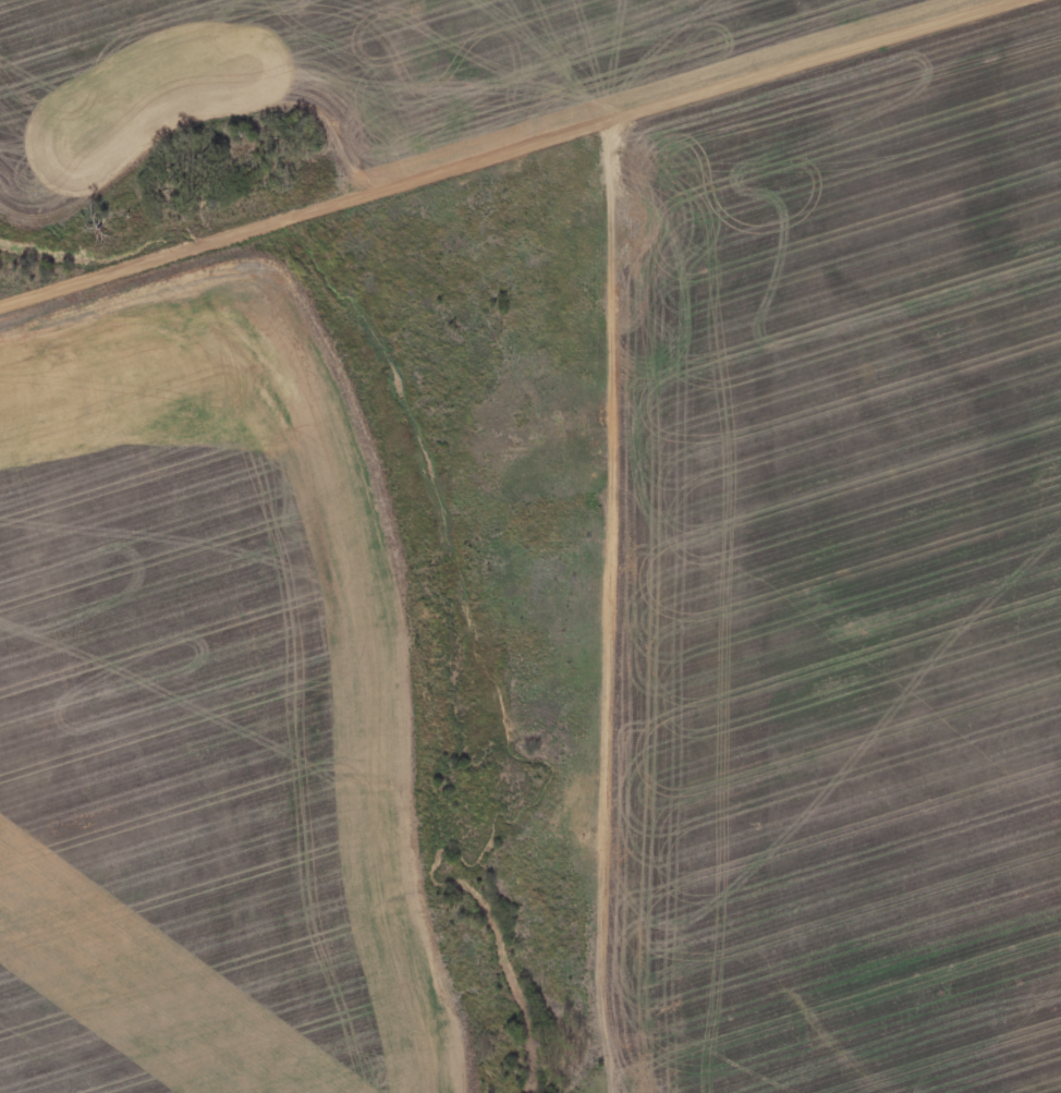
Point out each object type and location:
road: (499, 148)

